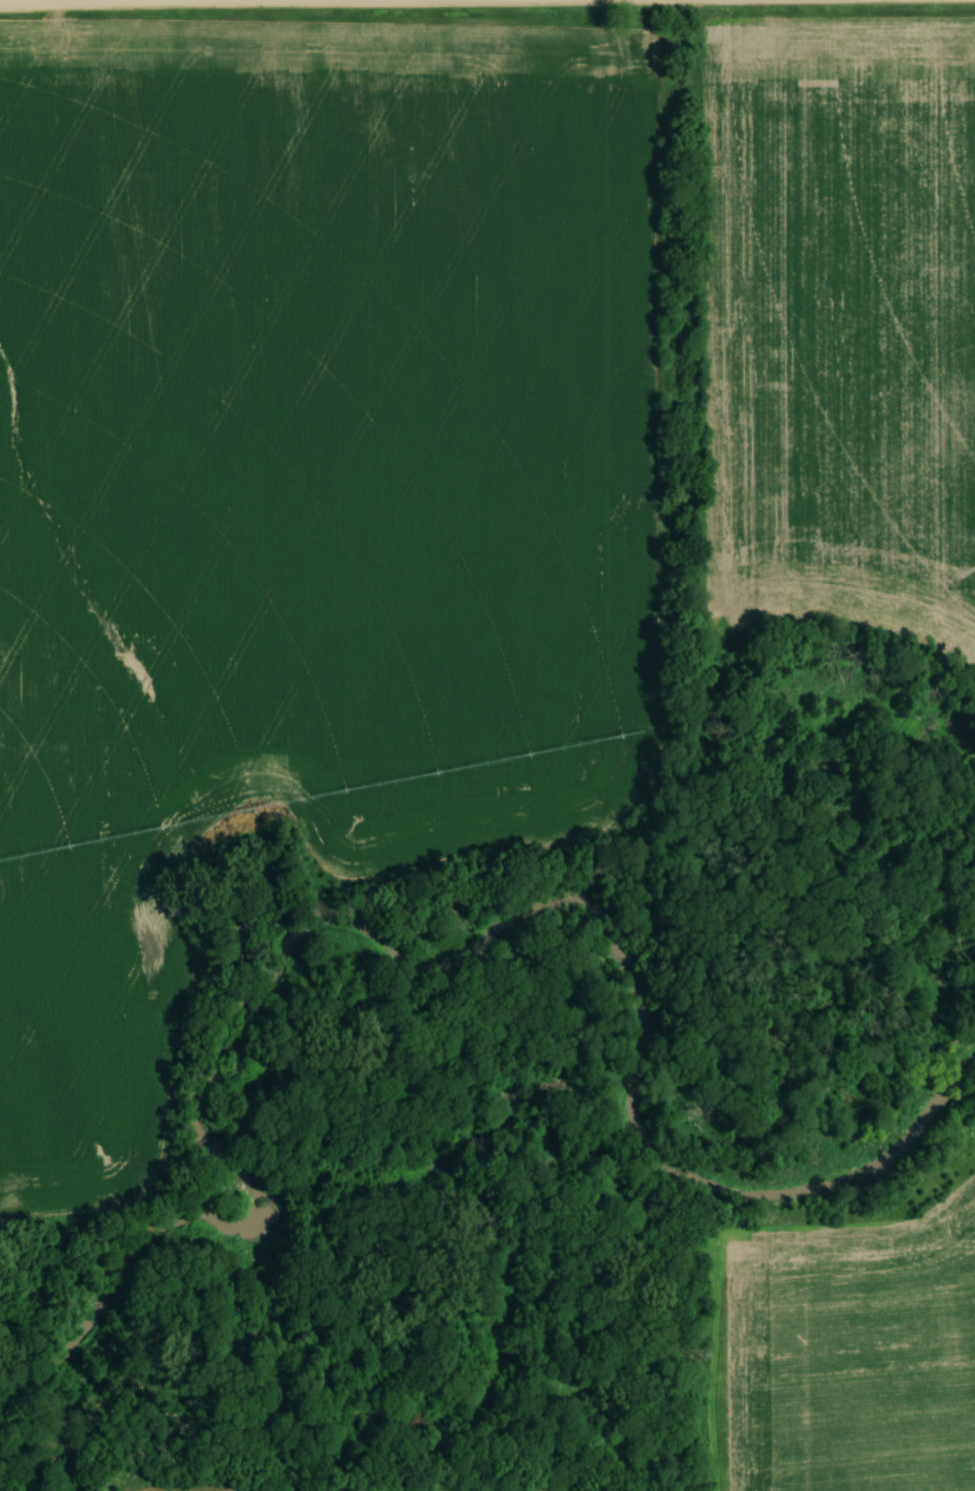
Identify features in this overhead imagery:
road: (333, 2)

